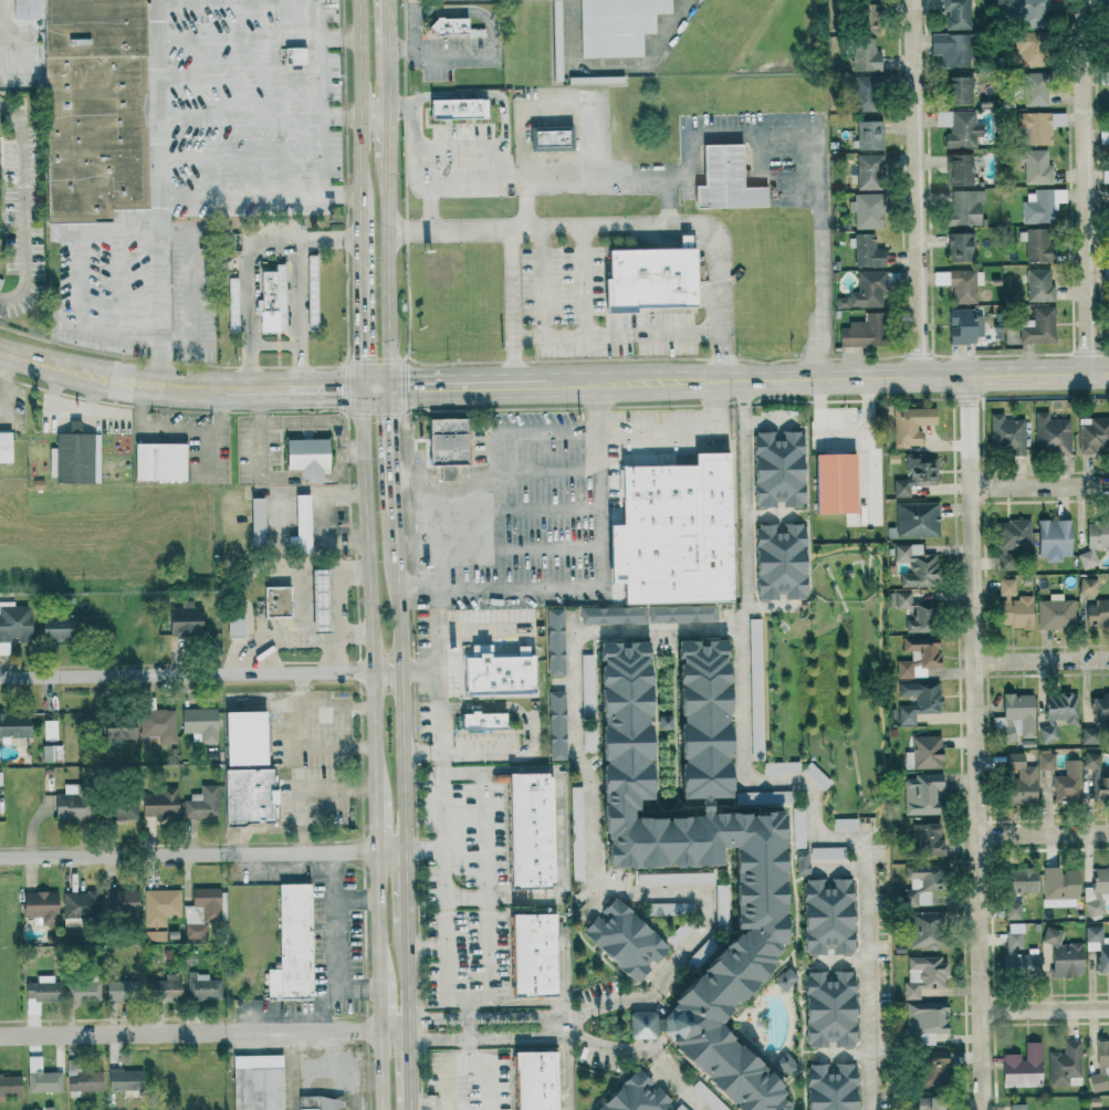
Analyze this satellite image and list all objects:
road: (237, 2)
building: (1026, 12)
building: (956, 13)
building: (862, 18)
road: (384, 24)
building: (616, 25)
building: (448, 27)
road: (4, 36)
road: (238, 38)
road: (337, 38)
building: (555, 44)
building: (1028, 49)
building: (952, 50)
road: (431, 53)
building: (864, 54)
building: (293, 55)
road: (238, 76)
road: (385, 81)
building: (959, 90)
building: (1034, 90)
building: (865, 94)
road: (477, 95)
road: (318, 96)
building: (90, 106)
building: (456, 111)
road: (372, 114)
road: (338, 115)
road: (238, 116)
building: (1036, 127)
building: (960, 128)
road: (358, 132)
building: (867, 135)
building: (1103, 136)
building: (552, 137)
road: (386, 142)
road: (239, 157)
building: (1035, 167)
building: (959, 169)
building: (868, 171)
road: (649, 174)
building: (1105, 176)
building: (723, 180)
road: (1087, 187)
road: (914, 188)
road: (470, 189)
road: (159, 192)
road: (339, 195)
road: (240, 196)
road: (667, 199)
road: (525, 200)
building: (1040, 205)
road: (23, 206)
building: (964, 208)
road: (429, 209)
building: (866, 210)
road: (628, 224)
road: (138, 230)
road: (818, 234)
road: (653, 235)
building: (1108, 235)
road: (329, 241)
building: (686, 241)
road: (275, 242)
building: (1034, 244)
road: (708, 245)
building: (959, 247)
building: (866, 251)
building: (1106, 276)
road: (387, 277)
road: (79, 280)
building: (650, 280)
road: (583, 281)
road: (121, 282)
road: (541, 282)
road: (192, 284)
building: (959, 284)
building: (1038, 285)
building: (310, 291)
building: (865, 291)
building: (270, 300)
building: (230, 304)
road: (511, 306)
road: (362, 326)
building: (963, 326)
building: (1037, 326)
building: (861, 332)
road: (133, 335)
road: (615, 336)
road: (274, 345)
road: (747, 379)
road: (178, 386)
road: (374, 388)
road: (743, 394)
road: (259, 405)
road: (768, 420)
road: (274, 421)
building: (909, 425)
road: (674, 427)
road: (547, 430)
building: (1006, 433)
building: (1050, 434)
building: (1092, 434)
building: (444, 446)
building: (4, 447)
road: (500, 450)
road: (389, 451)
building: (73, 455)
building: (158, 462)
road: (540, 468)
building: (776, 469)
road: (339, 472)
building: (913, 473)
road: (310, 478)
road: (414, 478)
building: (833, 483)
road: (460, 485)
road: (1039, 486)
parking lot: (531, 506)
road: (541, 510)
road: (754, 513)
road: (797, 513)
road: (771, 515)
road: (335, 517)
building: (916, 519)
building: (254, 521)
building: (299, 526)
road: (484, 527)
building: (670, 530)
building: (1053, 540)
building: (1012, 542)
building: (1095, 543)
road: (436, 546)
road: (542, 548)
building: (777, 562)
building: (914, 566)
road: (599, 584)
building: (1087, 586)
road: (345, 594)
road: (368, 594)
building: (317, 600)
building: (275, 601)
road: (773, 606)
building: (1013, 606)
building: (912, 612)
building: (1054, 612)
building: (680, 614)
building: (1097, 614)
building: (611, 615)
building: (182, 619)
building: (12, 624)
building: (232, 625)
building: (54, 627)
road: (657, 629)
road: (485, 630)
road: (349, 636)
road: (291, 637)
building: (553, 642)
building: (753, 653)
building: (917, 657)
road: (1042, 657)
road: (420, 671)
road: (743, 672)
road: (201, 673)
building: (495, 673)
road: (402, 681)
building: (917, 701)
road: (335, 704)
road: (502, 705)
building: (1060, 708)
building: (1096, 718)
building: (1014, 719)
building: (481, 722)
building: (199, 724)
building: (13, 725)
building: (554, 725)
building: (117, 729)
building: (48, 730)
building: (1046, 732)
road: (883, 733)
building: (243, 739)
building: (586, 740)
building: (755, 742)
road: (975, 742)
road: (300, 743)
road: (467, 752)
building: (51, 753)
building: (922, 753)
road: (773, 757)
building: (1045, 761)
building: (1090, 761)
building: (780, 767)
road: (463, 771)
building: (814, 776)
building: (1018, 781)
building: (1066, 783)
building: (1100, 784)
road: (305, 787)
road: (677, 788)
building: (921, 795)
building: (247, 796)
building: (761, 797)
building: (159, 803)
building: (201, 804)
road: (441, 804)
building: (67, 805)
building: (121, 809)
building: (844, 825)
road: (374, 826)
building: (797, 827)
building: (529, 830)
road: (1043, 832)
road: (561, 835)
building: (927, 839)
building: (576, 841)
road: (423, 849)
road: (390, 850)
road: (187, 854)
building: (826, 854)
road: (593, 858)
road: (843, 861)
building: (801, 862)
road: (838, 870)
building: (673, 879)
road: (487, 884)
building: (918, 886)
road: (407, 888)
building: (1058, 888)
building: (1016, 889)
building: (1096, 891)
building: (720, 894)
road: (465, 898)
road: (354, 899)
road: (593, 903)
building: (79, 904)
building: (119, 904)
building: (39, 905)
building: (669, 909)
building: (158, 911)
building: (202, 911)
road: (377, 915)
building: (826, 918)
building: (922, 930)
building: (622, 939)
road: (331, 944)
building: (291, 945)
road: (426, 946)
building: (1098, 946)
building: (1016, 951)
building: (532, 954)
building: (1061, 954)
road: (793, 957)
road: (841, 962)
road: (807, 967)
road: (869, 973)
building: (922, 975)
road: (408, 977)
building: (784, 978)
building: (201, 986)
building: (163, 987)
building: (40, 988)
building: (119, 989)
building: (81, 991)
road: (648, 995)
road: (467, 999)
road: (525, 1003)
road: (379, 1005)
road: (599, 1005)
road: (1045, 1006)
road: (320, 1007)
building: (828, 1008)
road: (564, 1014)
road: (485, 1017)
building: (924, 1020)
building: (640, 1024)
road: (641, 1025)
road: (395, 1028)
road: (469, 1029)
road: (190, 1032)
road: (485, 1038)
road: (600, 1045)
road: (814, 1050)
road: (650, 1053)
road: (844, 1054)
road: (468, 1060)
building: (785, 1064)
building: (1065, 1065)
building: (1022, 1066)
road: (409, 1067)
building: (1100, 1067)
building: (931, 1068)
road: (381, 1069)
building: (40, 1077)
building: (81, 1078)
building: (123, 1079)
building: (534, 1080)
building: (257, 1081)
building: (9, 1083)
road: (679, 1083)
building: (829, 1087)
building: (634, 1096)
building: (705, 1097)
building: (317, 1102)
building: (927, 1102)
road: (429, 1106)
building: (1016, 1107)
road: (410, 1108)

